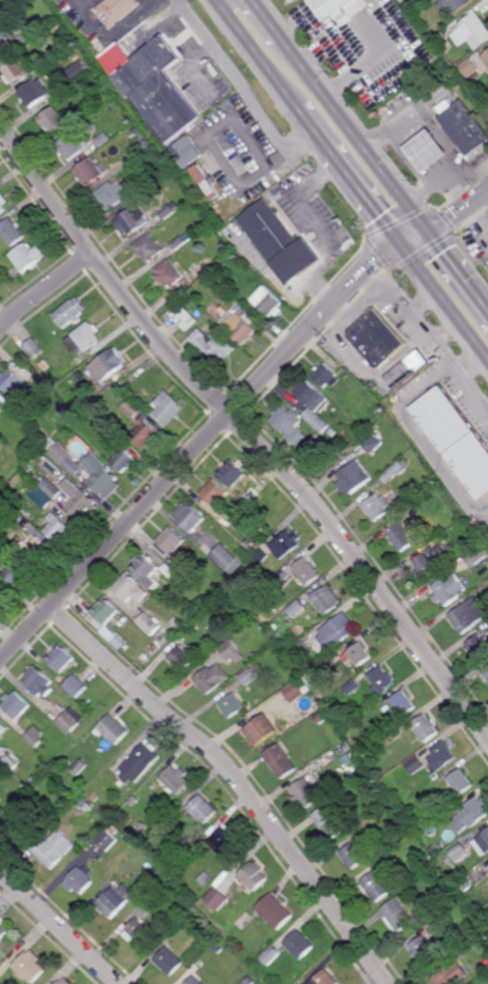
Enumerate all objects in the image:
building: (17, 2)
building: (423, 2)
building: (452, 6)
building: (8, 8)
building: (328, 8)
building: (114, 10)
road: (269, 22)
building: (472, 32)
building: (27, 34)
building: (5, 36)
building: (93, 41)
building: (440, 45)
road: (259, 53)
building: (69, 55)
building: (50, 58)
building: (485, 58)
building: (14, 68)
building: (469, 68)
building: (79, 71)
power tower: (335, 71)
road: (235, 76)
building: (476, 76)
building: (154, 85)
building: (35, 91)
building: (487, 98)
building: (119, 103)
building: (88, 112)
building: (57, 118)
building: (465, 126)
building: (96, 127)
road: (317, 130)
building: (107, 139)
road: (358, 139)
building: (75, 146)
building: (145, 147)
building: (431, 151)
building: (193, 153)
road: (225, 162)
building: (96, 170)
power tower: (415, 179)
building: (207, 181)
building: (152, 184)
building: (115, 194)
road: (370, 199)
building: (3, 202)
building: (172, 210)
building: (136, 220)
building: (15, 230)
building: (273, 233)
traffic signals: (431, 235)
building: (185, 240)
traffic signals: (405, 246)
building: (152, 247)
building: (32, 256)
building: (203, 266)
road: (459, 272)
building: (172, 273)
building: (210, 281)
building: (189, 283)
building: (234, 286)
road: (47, 291)
building: (271, 301)
road: (445, 301)
building: (191, 306)
building: (75, 312)
building: (188, 317)
building: (243, 328)
building: (92, 336)
road: (432, 336)
building: (377, 338)
building: (216, 346)
building: (35, 349)
building: (434, 356)
building: (79, 364)
building: (112, 364)
road: (473, 364)
building: (407, 369)
building: (327, 376)
building: (13, 382)
building: (125, 384)
building: (92, 392)
building: (339, 397)
building: (0, 404)
building: (314, 404)
building: (77, 405)
building: (171, 409)
building: (135, 410)
building: (66, 412)
road: (232, 413)
building: (86, 416)
building: (290, 425)
road: (247, 430)
building: (332, 432)
building: (150, 436)
building: (0, 437)
building: (455, 438)
building: (373, 442)
building: (66, 457)
building: (125, 461)
building: (29, 469)
building: (395, 470)
building: (234, 474)
building: (103, 477)
building: (353, 478)
building: (54, 490)
building: (6, 492)
building: (217, 494)
building: (42, 497)
building: (426, 497)
building: (80, 501)
building: (377, 506)
building: (191, 518)
building: (25, 522)
building: (60, 529)
building: (472, 534)
building: (402, 536)
building: (171, 540)
building: (287, 544)
building: (250, 545)
building: (36, 549)
building: (9, 551)
building: (477, 555)
building: (262, 557)
building: (227, 559)
building: (431, 561)
building: (146, 569)
building: (307, 571)
building: (16, 572)
building: (174, 574)
building: (282, 577)
building: (130, 589)
building: (448, 589)
building: (2, 595)
building: (327, 600)
building: (1, 607)
building: (297, 609)
building: (105, 610)
building: (309, 613)
building: (468, 615)
building: (177, 622)
building: (254, 622)
building: (149, 623)
building: (337, 631)
building: (478, 647)
building: (168, 650)
building: (300, 650)
building: (232, 651)
building: (201, 654)
building: (360, 654)
building: (255, 655)
building: (61, 657)
building: (181, 658)
building: (486, 672)
building: (248, 676)
building: (210, 678)
building: (381, 680)
building: (39, 681)
building: (342, 682)
building: (76, 686)
building: (352, 687)
building: (296, 690)
building: (404, 703)
building: (17, 705)
building: (231, 706)
building: (298, 716)
building: (321, 717)
building: (71, 720)
building: (3, 728)
building: (426, 728)
building: (114, 729)
building: (260, 729)
building: (393, 736)
building: (35, 737)
building: (442, 756)
building: (326, 760)
building: (279, 761)
building: (140, 762)
building: (10, 763)
building: (416, 765)
building: (80, 766)
building: (402, 770)
building: (35, 779)
building: (175, 779)
road: (237, 779)
building: (461, 782)
building: (304, 793)
building: (398, 794)
building: (95, 797)
building: (445, 800)
building: (85, 804)
building: (26, 806)
building: (201, 809)
building: (433, 809)
building: (175, 813)
building: (471, 815)
building: (166, 821)
building: (330, 822)
building: (23, 828)
building: (113, 829)
building: (107, 840)
building: (224, 841)
building: (483, 844)
building: (53, 848)
building: (434, 851)
building: (459, 852)
building: (353, 855)
building: (389, 863)
building: (249, 876)
building: (80, 879)
building: (206, 879)
building: (465, 884)
building: (375, 886)
building: (147, 888)
building: (156, 898)
building: (216, 899)
building: (115, 900)
building: (462, 905)
building: (273, 911)
building: (396, 914)
building: (224, 922)
building: (2, 928)
road: (58, 928)
building: (205, 930)
building: (138, 931)
building: (298, 945)
building: (217, 948)
building: (422, 949)
building: (270, 955)
building: (487, 957)
building: (169, 961)
building: (30, 966)
building: (450, 974)
building: (324, 978)
building: (194, 980)
building: (249, 981)
building: (65, 982)
building: (0, 983)

